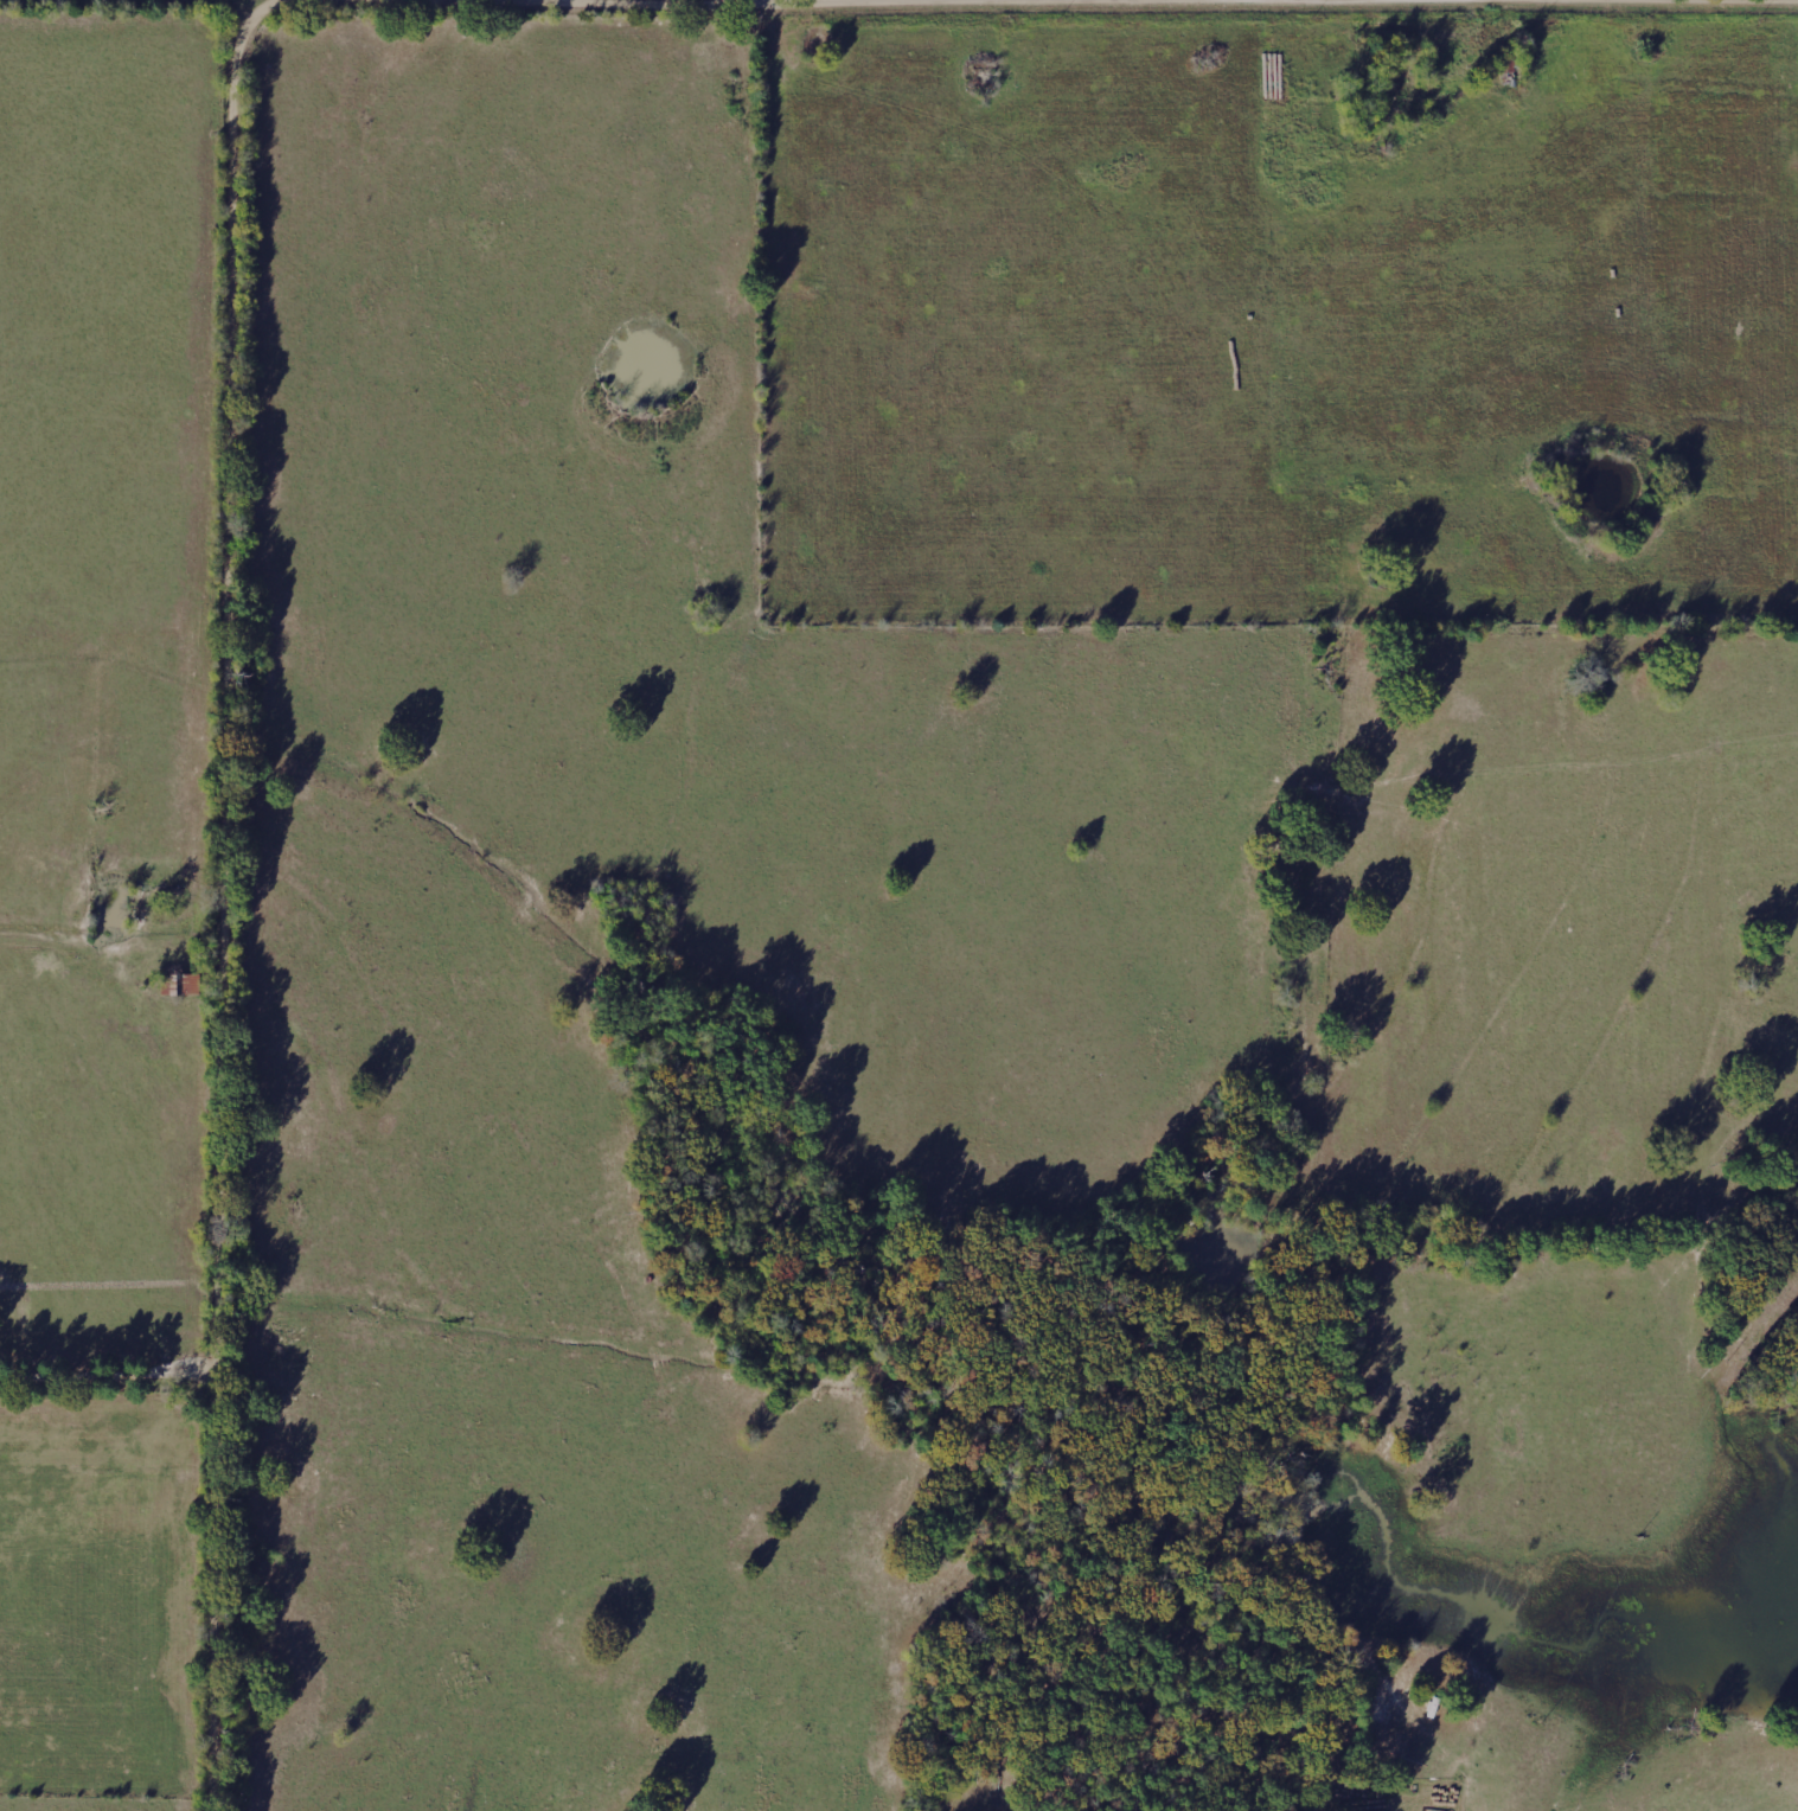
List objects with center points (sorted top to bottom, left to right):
road: (749, 4)
road: (241, 142)
road: (116, 951)

